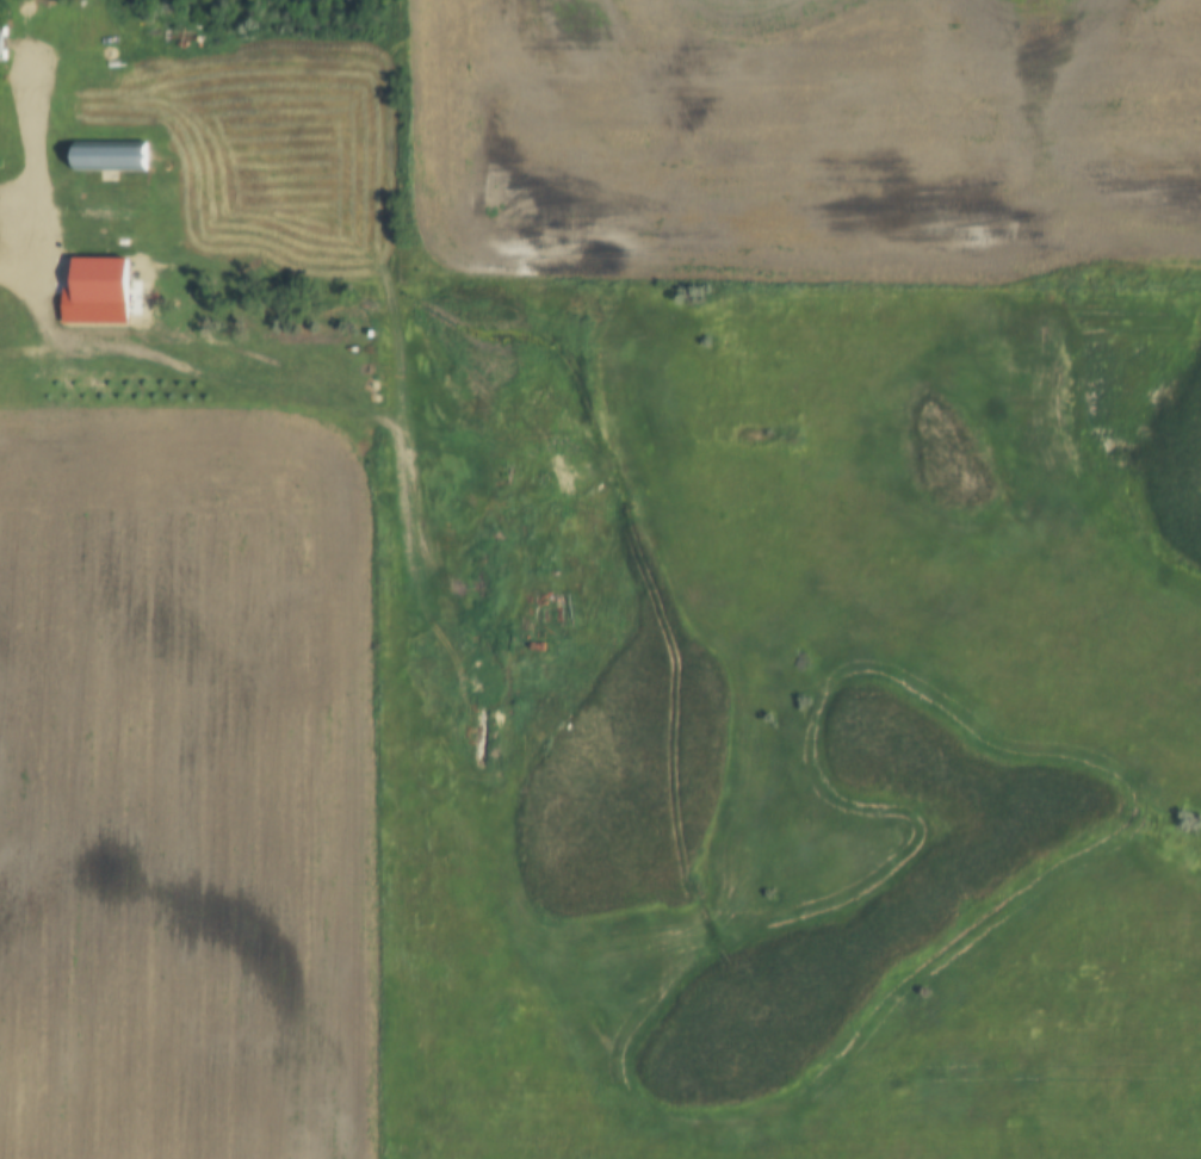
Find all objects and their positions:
building: (1, 43)
building: (111, 156)
road: (38, 173)
building: (93, 280)
road: (193, 374)
building: (60, 389)
building: (86, 389)
building: (111, 389)
building: (137, 389)

